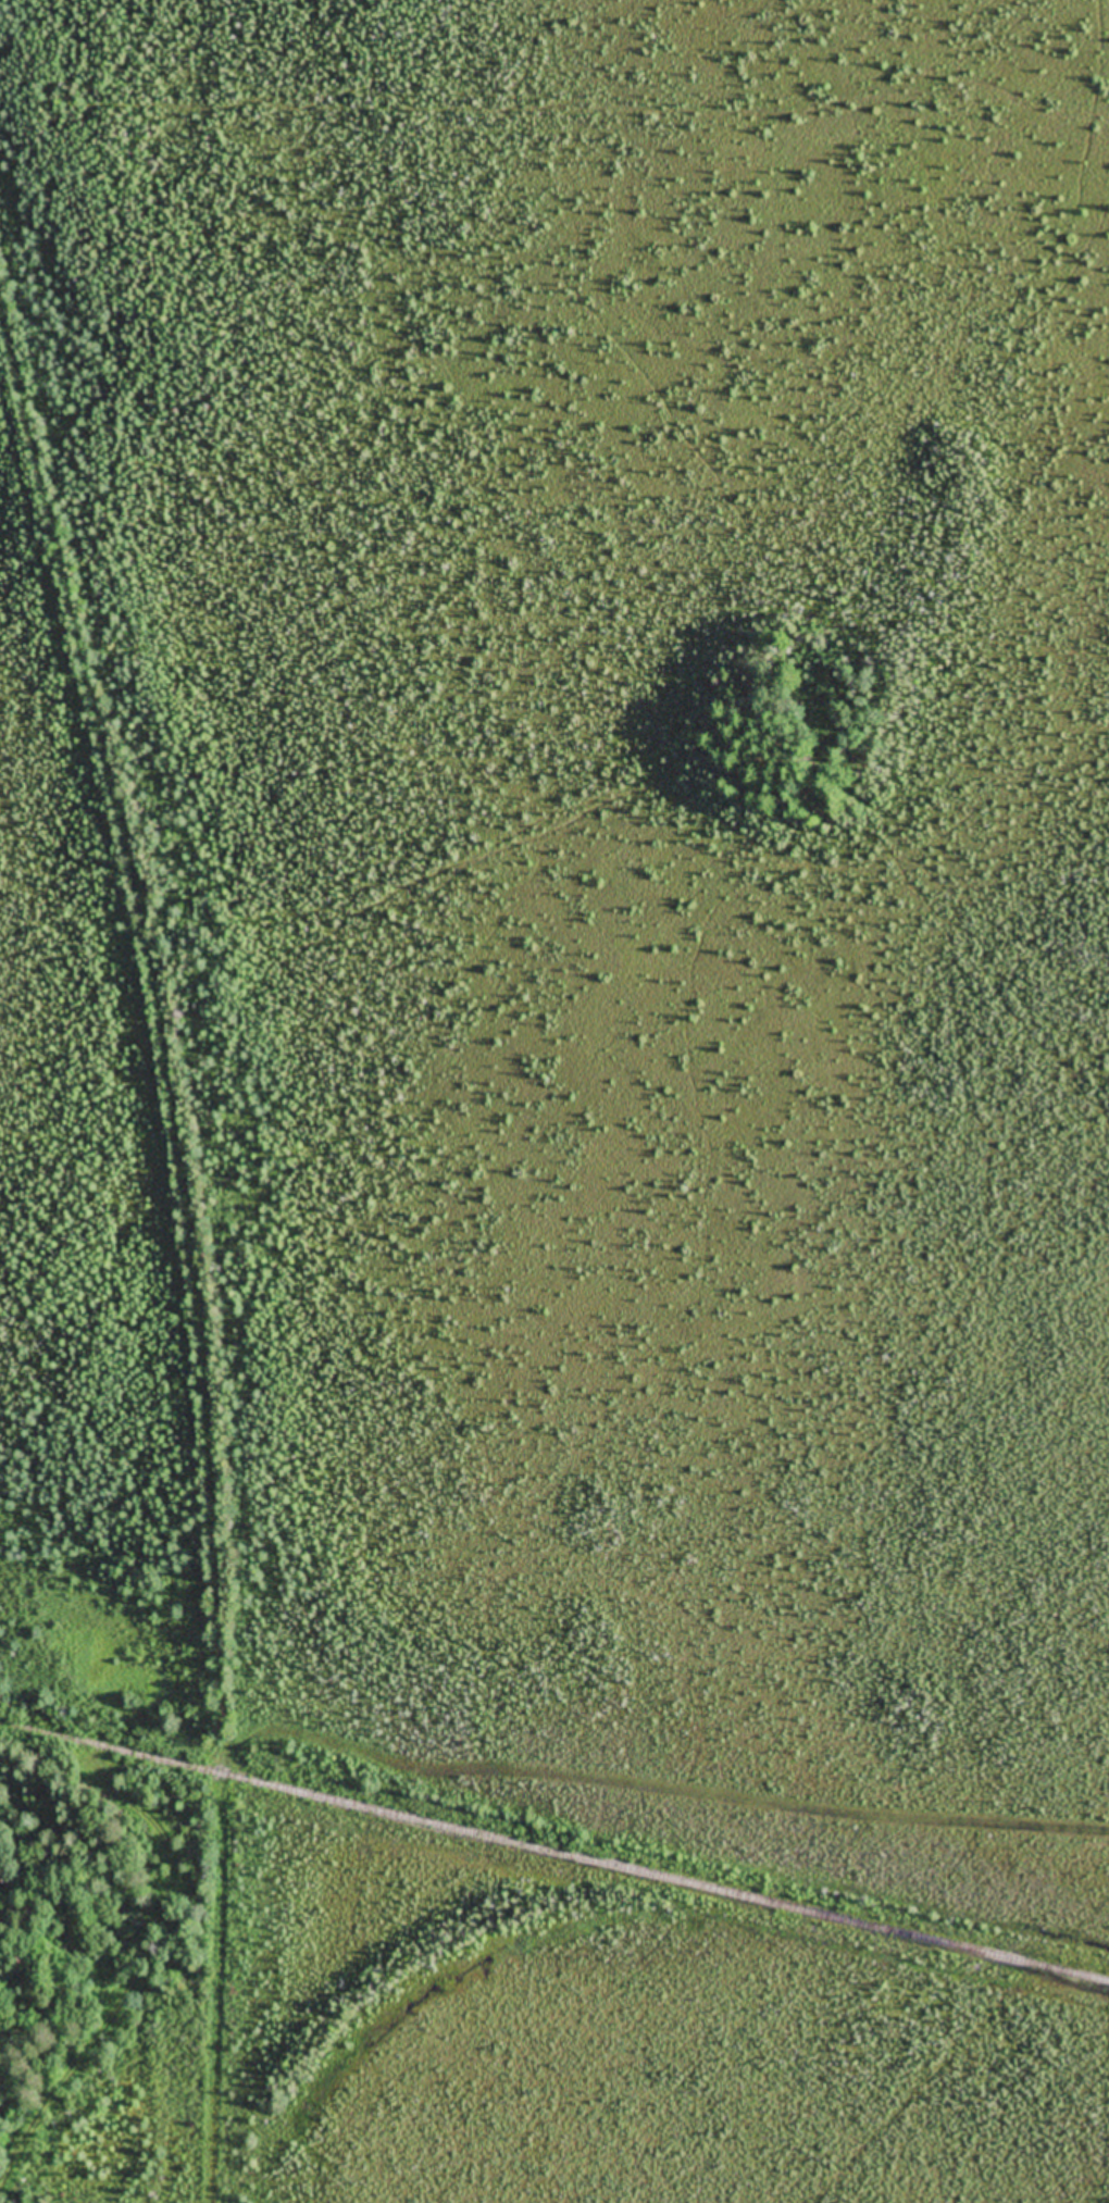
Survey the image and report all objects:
railway: (554, 1852)
road: (146, 1972)

